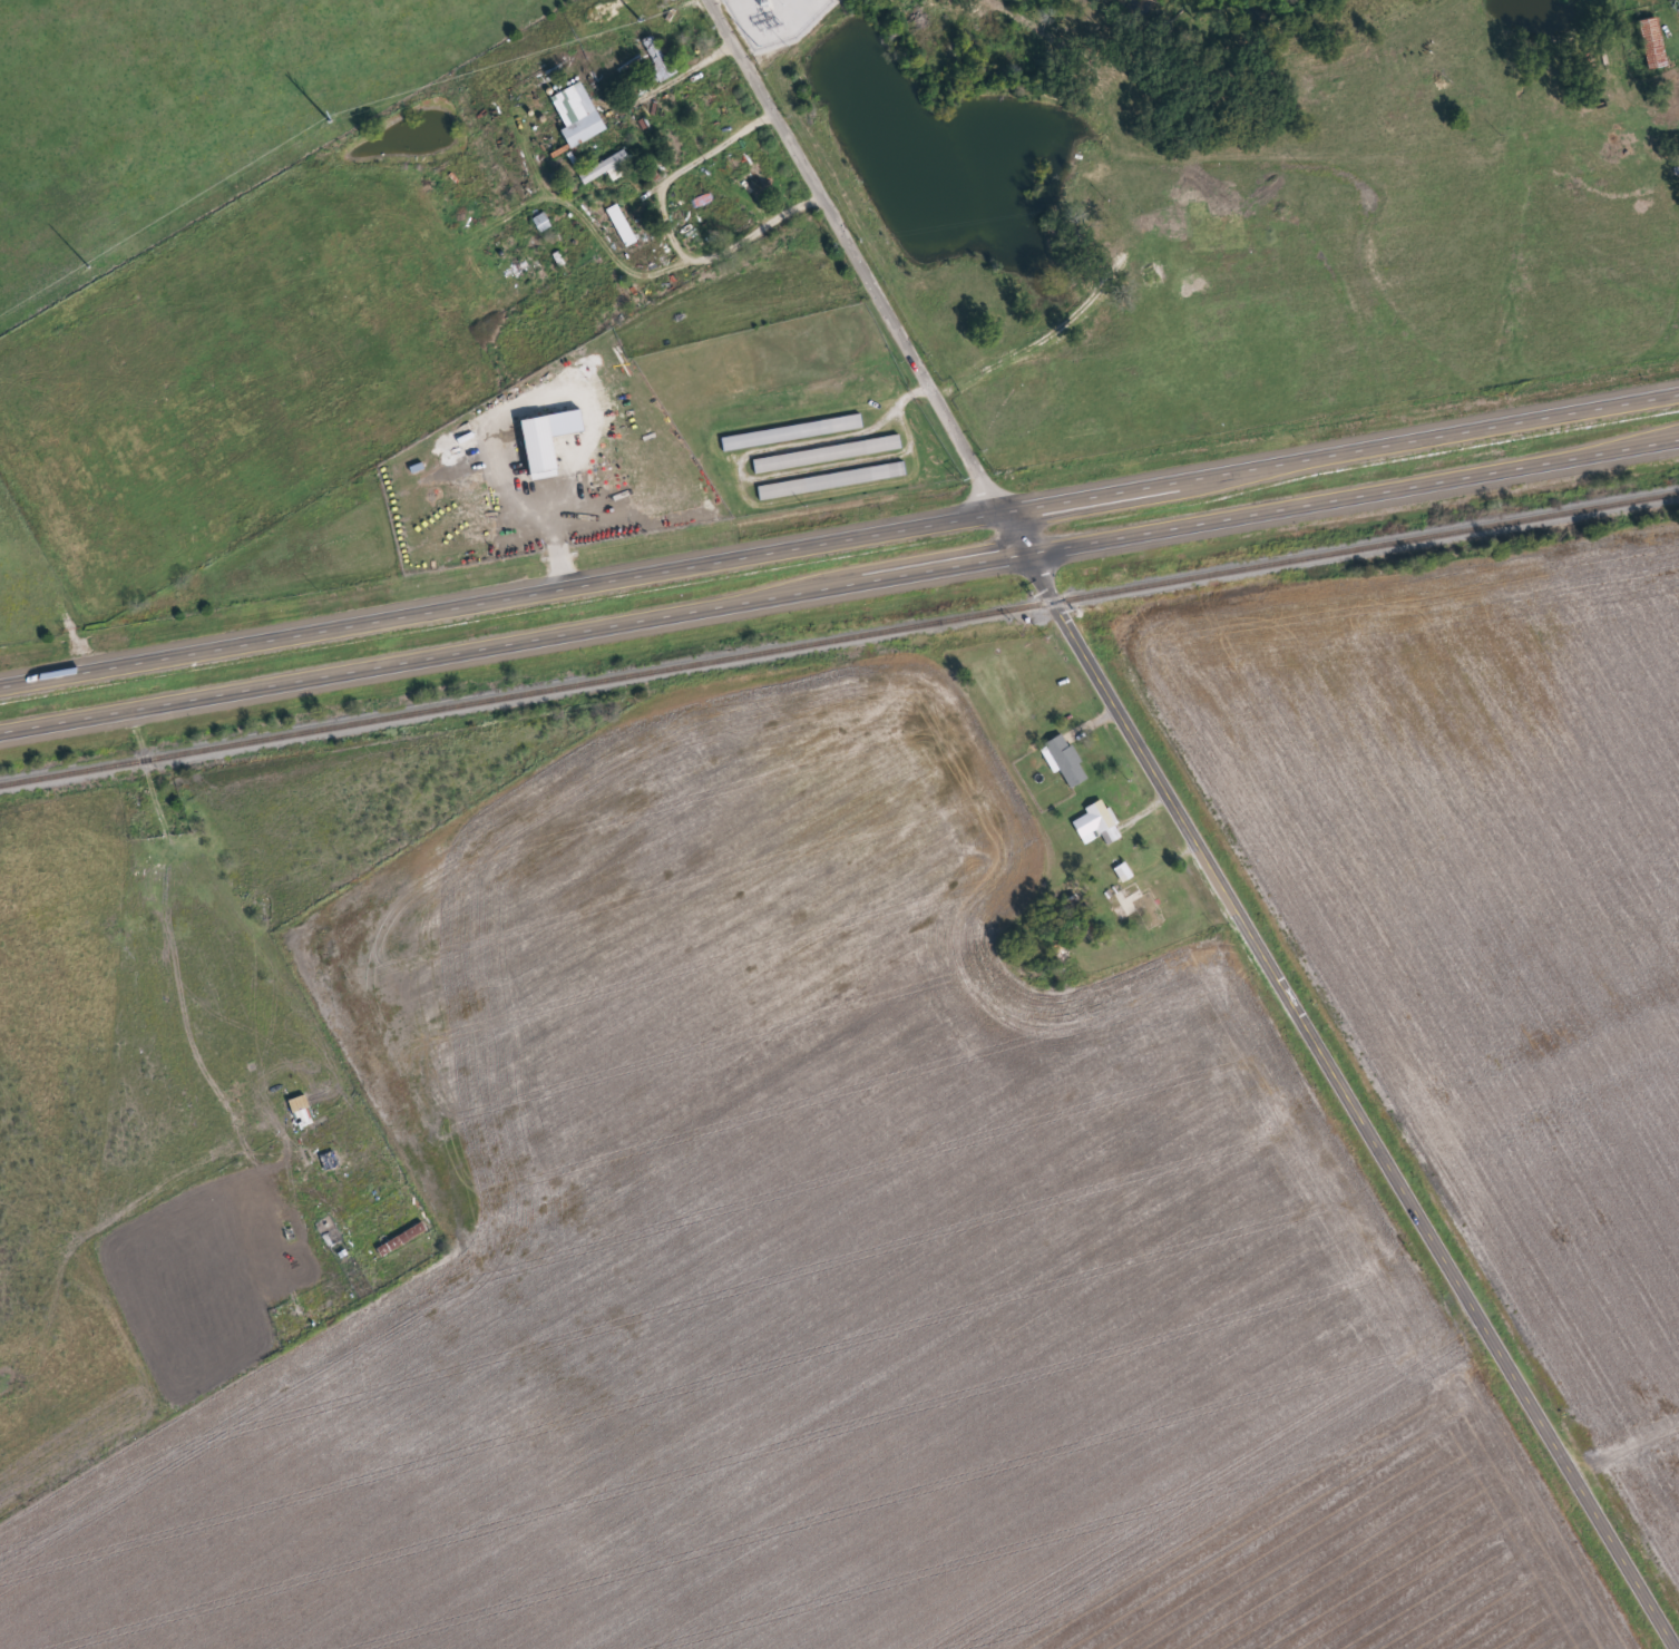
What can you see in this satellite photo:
power substation: (774, 18)
building: (1651, 42)
building: (655, 57)
building: (576, 115)
building: (605, 167)
building: (624, 233)
road: (853, 252)
building: (790, 431)
road: (1339, 449)
building: (827, 453)
building: (831, 480)
road: (1354, 496)
road: (499, 598)
railway: (839, 636)
road: (514, 642)
building: (1065, 760)
building: (1096, 822)
building: (1085, 929)
road: (1335, 1077)
road: (1622, 1442)

